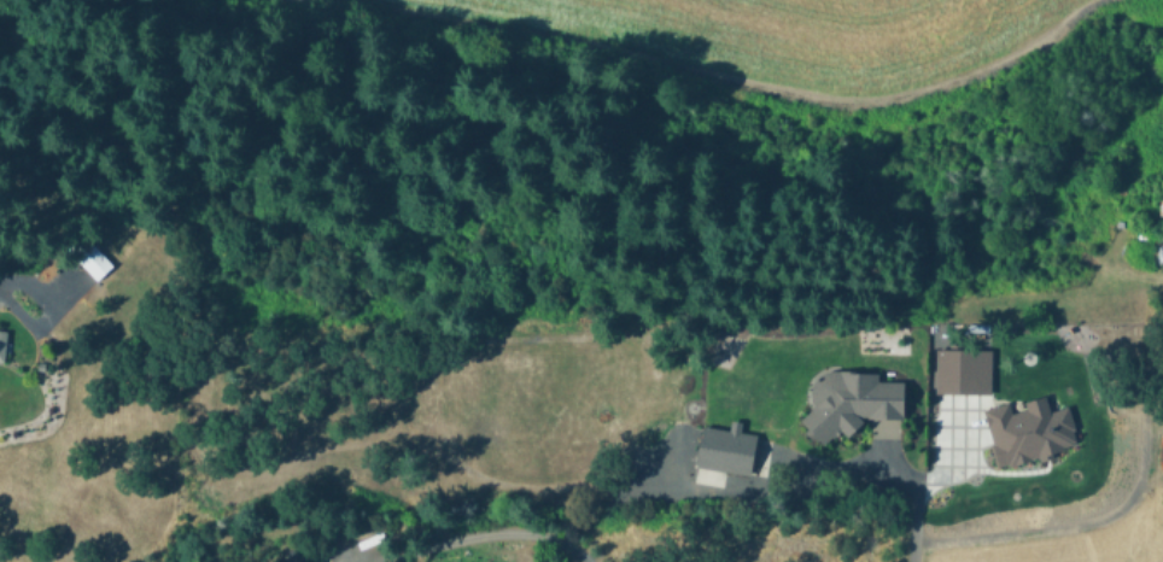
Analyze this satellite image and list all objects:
building: (1161, 200)
building: (97, 262)
road: (1, 288)
building: (2, 346)
building: (965, 369)
building: (853, 400)
building: (1027, 423)
road: (370, 441)
building: (727, 446)
road: (890, 459)
road: (919, 482)
road: (1091, 522)
road: (477, 534)
building: (298, 555)

